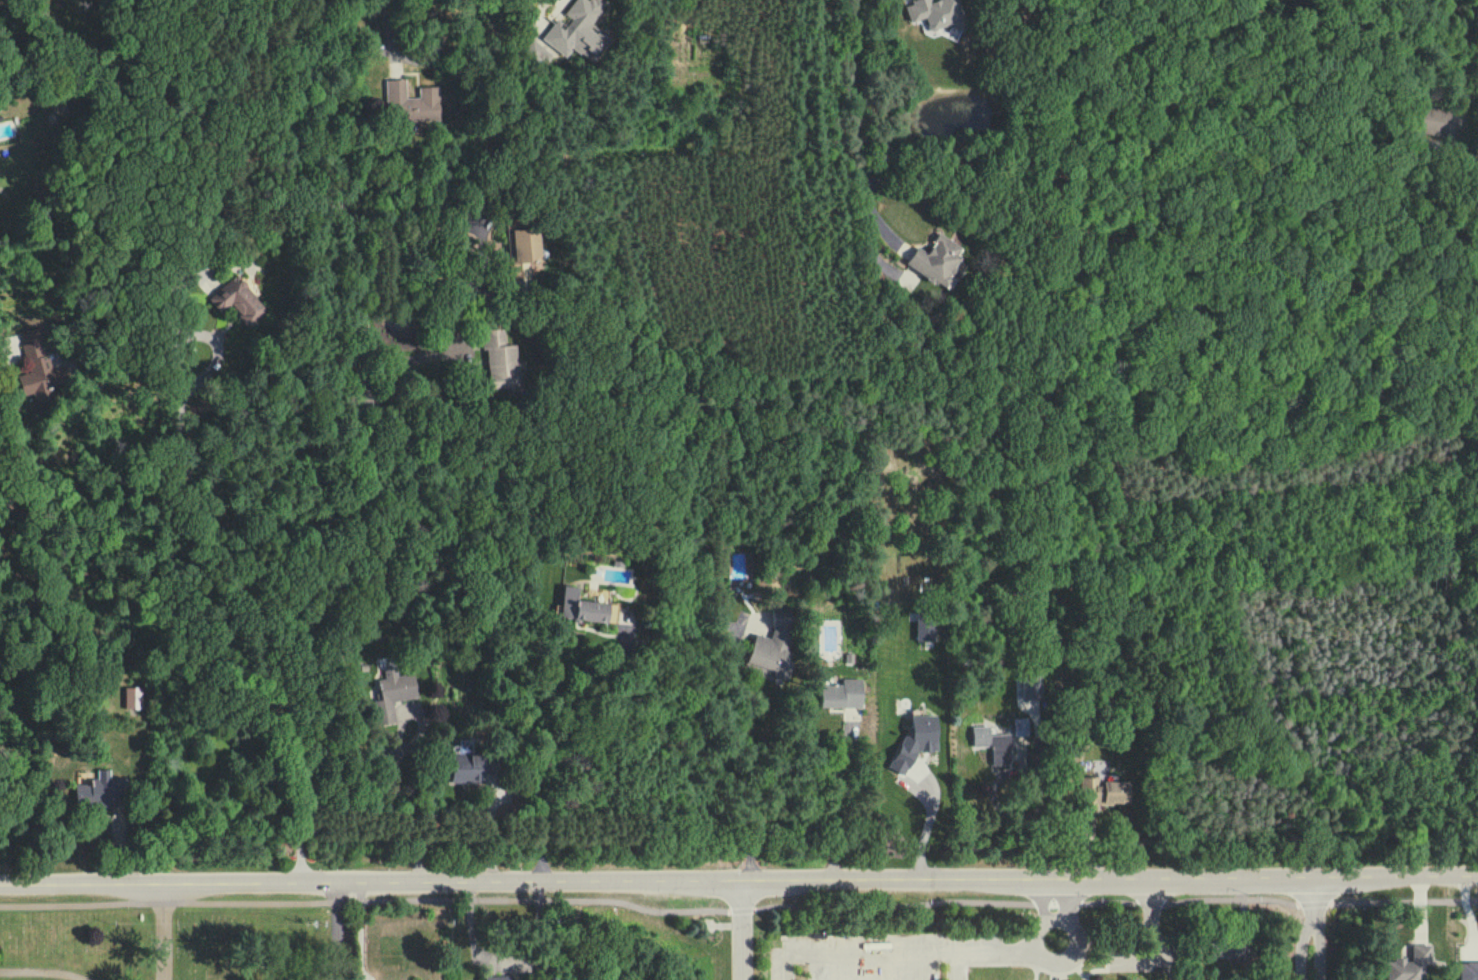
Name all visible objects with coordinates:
road: (566, 0)
building: (935, 13)
building: (577, 31)
road: (420, 60)
road: (1468, 98)
building: (409, 102)
road: (856, 110)
building: (1432, 122)
road: (340, 185)
building: (936, 261)
road: (464, 277)
building: (237, 300)
road: (9, 352)
building: (498, 356)
building: (36, 371)
road: (472, 388)
building: (586, 608)
road: (251, 614)
building: (925, 629)
building: (772, 643)
building: (393, 694)
building: (842, 694)
building: (132, 698)
building: (1020, 726)
road: (528, 727)
building: (916, 740)
road: (745, 741)
building: (992, 744)
road: (397, 764)
building: (468, 768)
road: (1028, 775)
building: (97, 791)
building: (1103, 792)
road: (836, 803)
road: (927, 827)
road: (492, 830)
road: (739, 883)
road: (1058, 884)
road: (1042, 915)
road: (1057, 918)
road: (1310, 929)
road: (743, 931)
road: (154, 932)
road: (339, 932)
road: (361, 932)
park: (163, 942)
park: (1017, 942)
road: (1073, 942)
road: (993, 951)
road: (860, 952)
road: (504, 960)
road: (956, 965)
building: (1410, 965)
road: (41, 968)
building: (1468, 971)
building: (499, 977)

